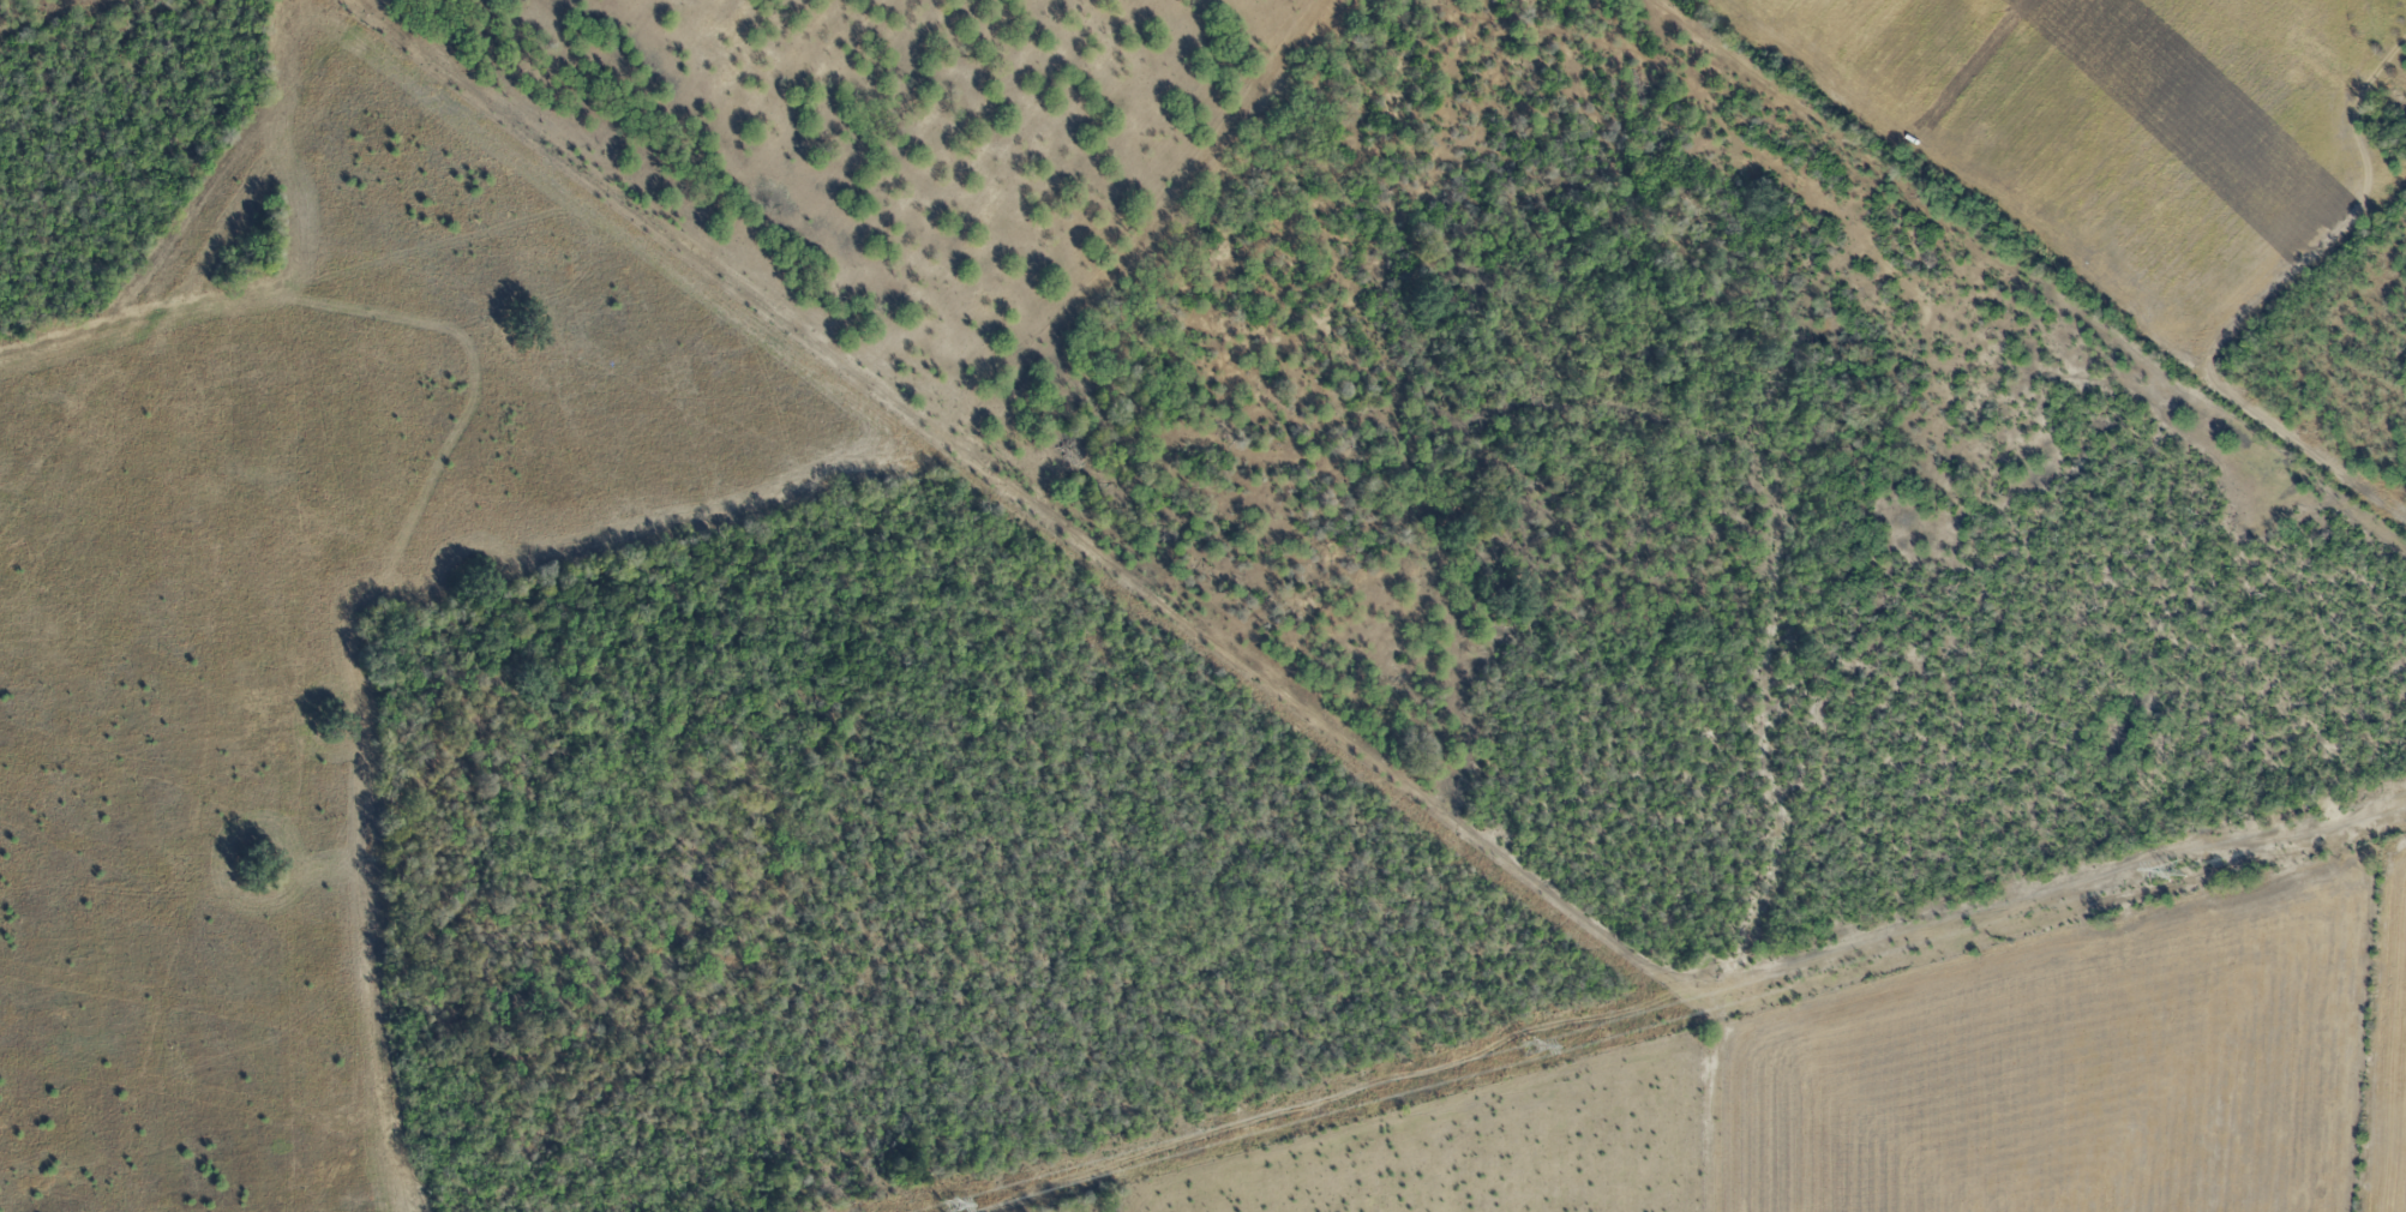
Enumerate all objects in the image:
quarry: (34, 10)
power tower: (2179, 874)
power tower: (1530, 1052)
power tower: (952, 1210)

